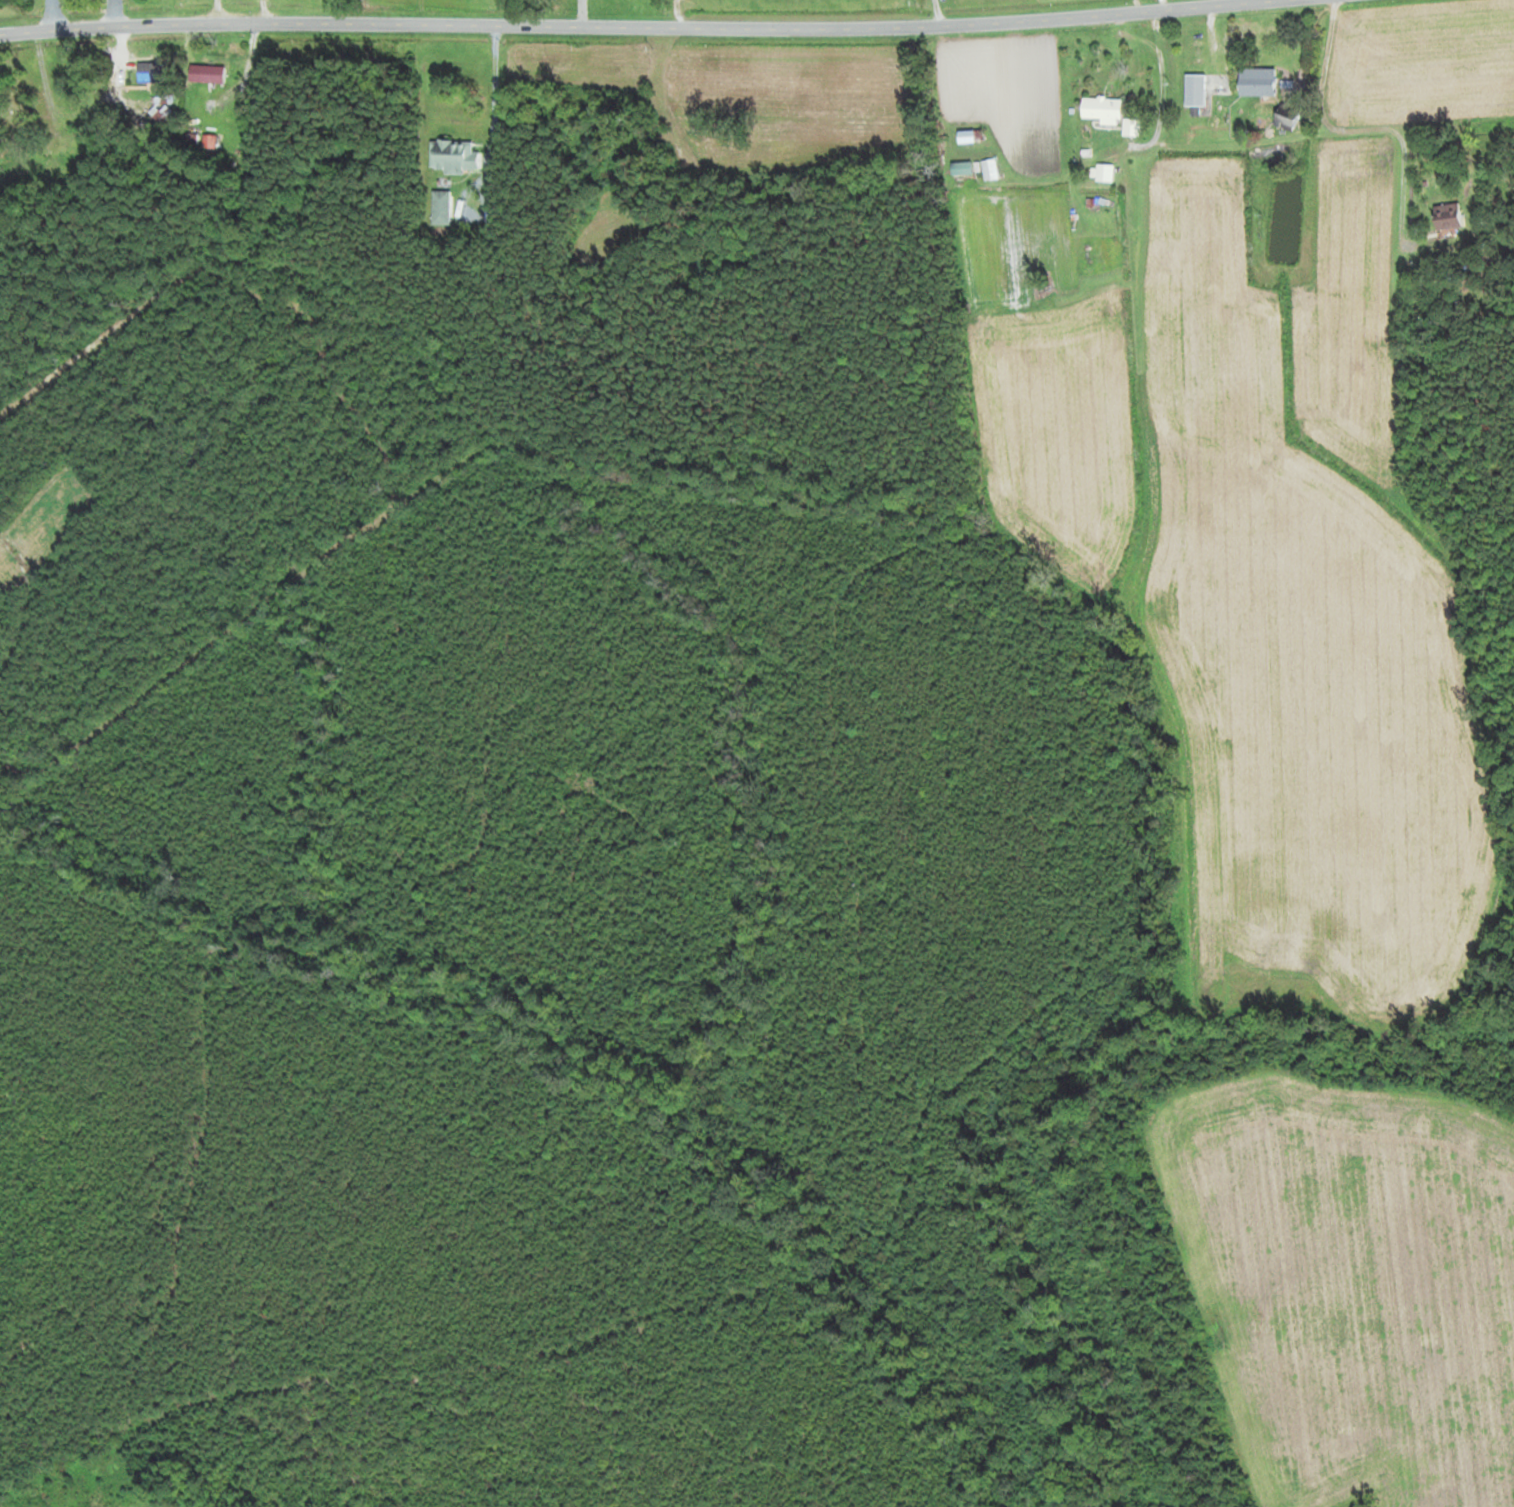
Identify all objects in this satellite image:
road: (635, 26)
building: (159, 71)
building: (209, 73)
building: (1256, 80)
building: (1195, 88)
building: (1104, 109)
building: (1285, 115)
building: (971, 136)
building: (64, 142)
building: (456, 156)
building: (965, 168)
building: (991, 170)
building: (1107, 173)
building: (443, 207)
building: (1448, 216)

